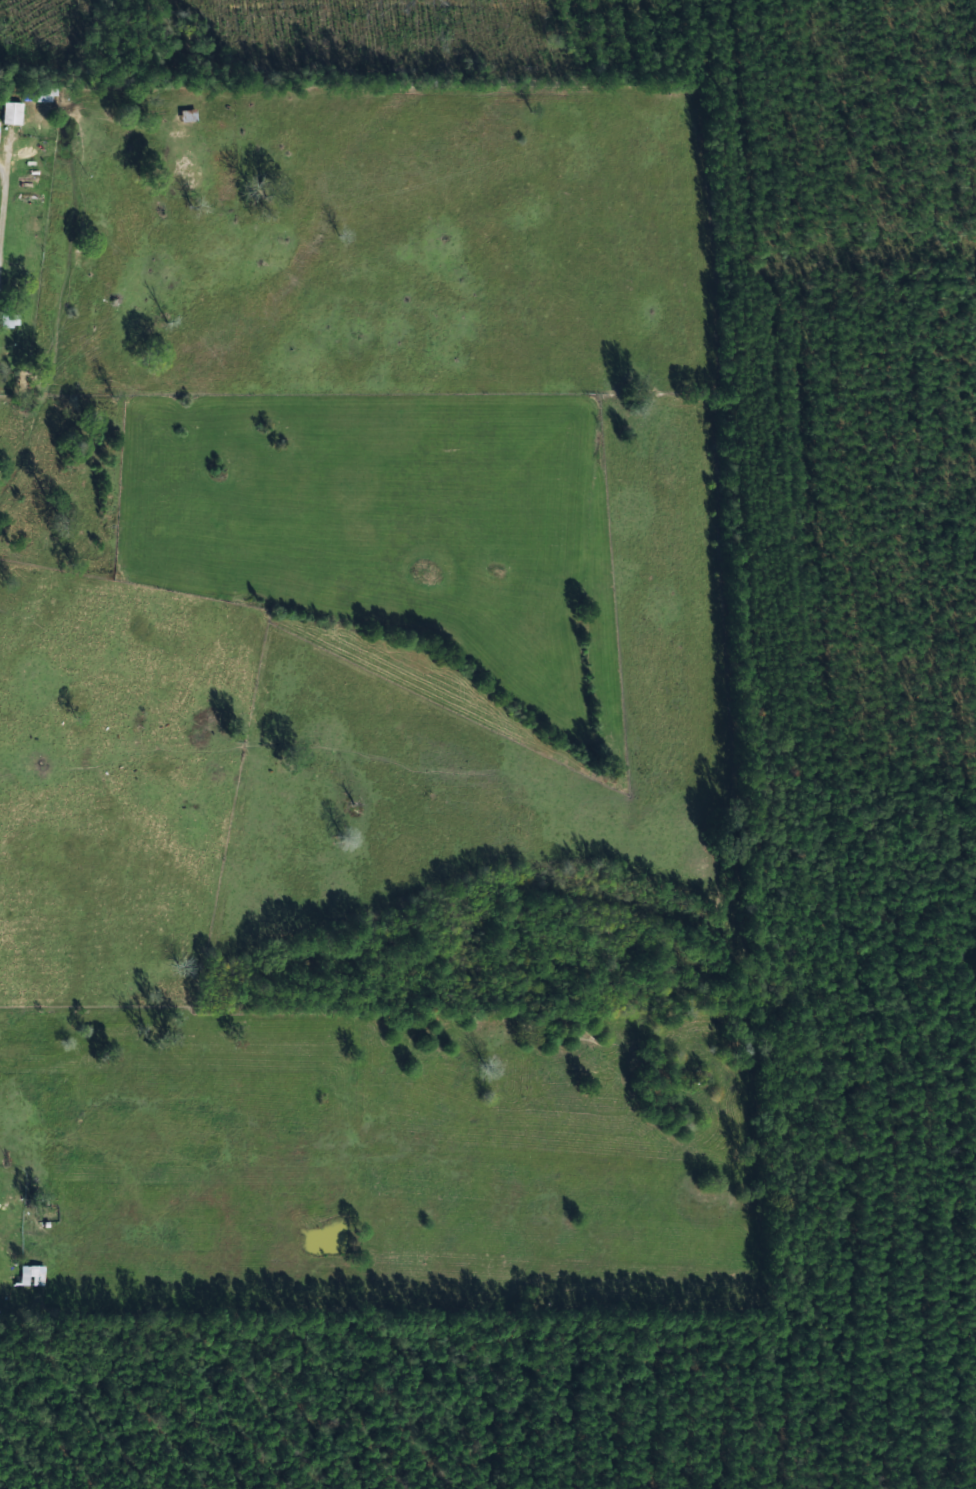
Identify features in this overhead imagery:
building: (10, 115)
building: (5, 320)

